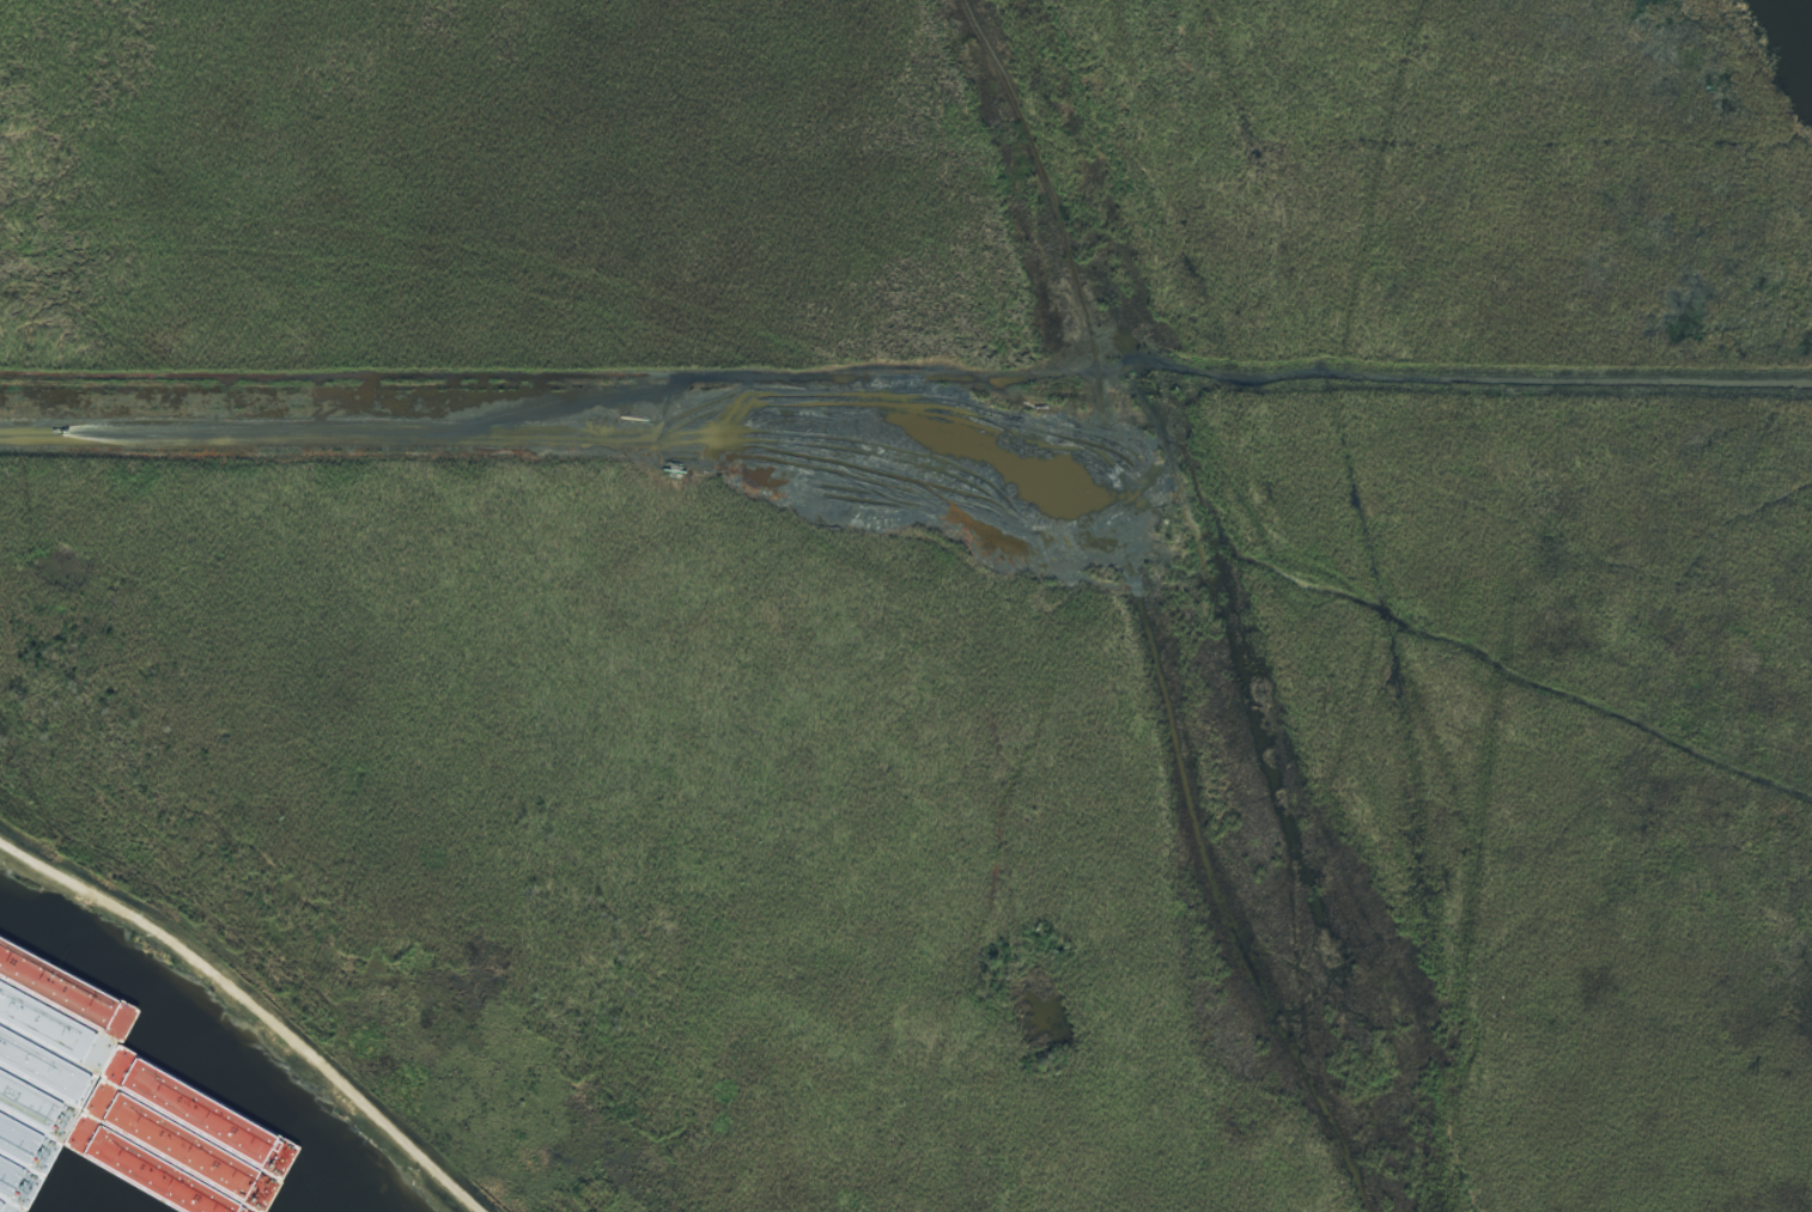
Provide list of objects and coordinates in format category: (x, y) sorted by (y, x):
road: (254, 1005)

